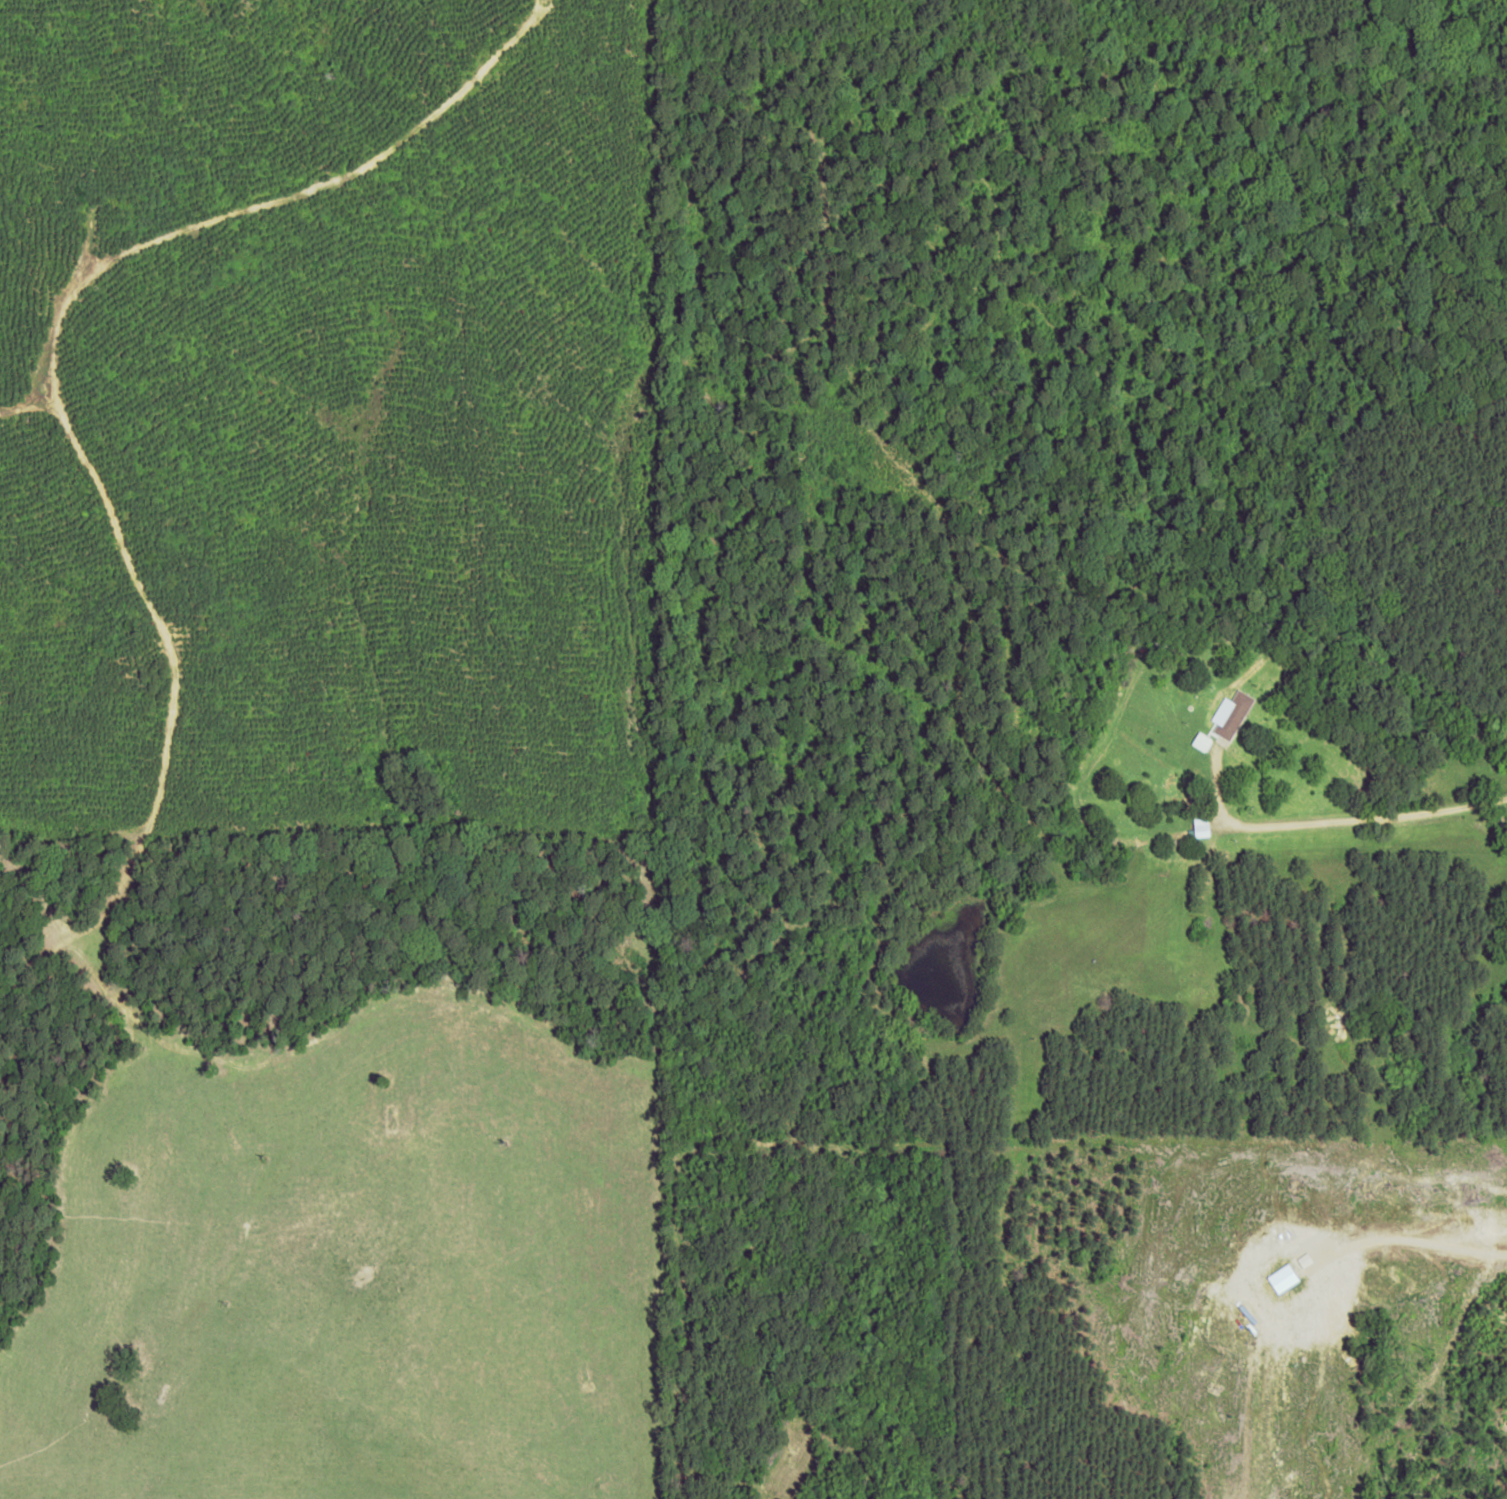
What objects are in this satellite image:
building: (1230, 714)
road: (1359, 832)

